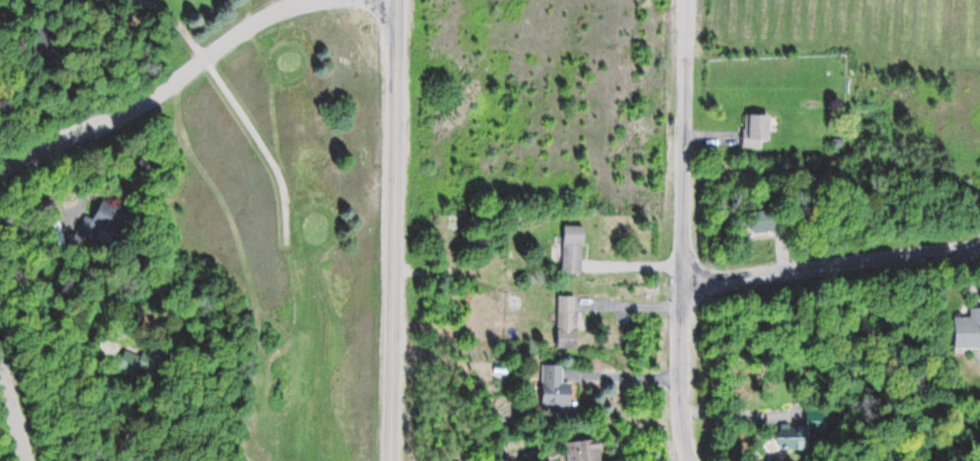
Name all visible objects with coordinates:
road: (156, 93)
road: (235, 105)
building: (756, 129)
building: (107, 220)
park: (190, 229)
road: (394, 230)
road: (680, 231)
building: (572, 249)
road: (828, 262)
building: (566, 320)
building: (968, 330)
building: (555, 386)
road: (13, 416)
building: (583, 450)

